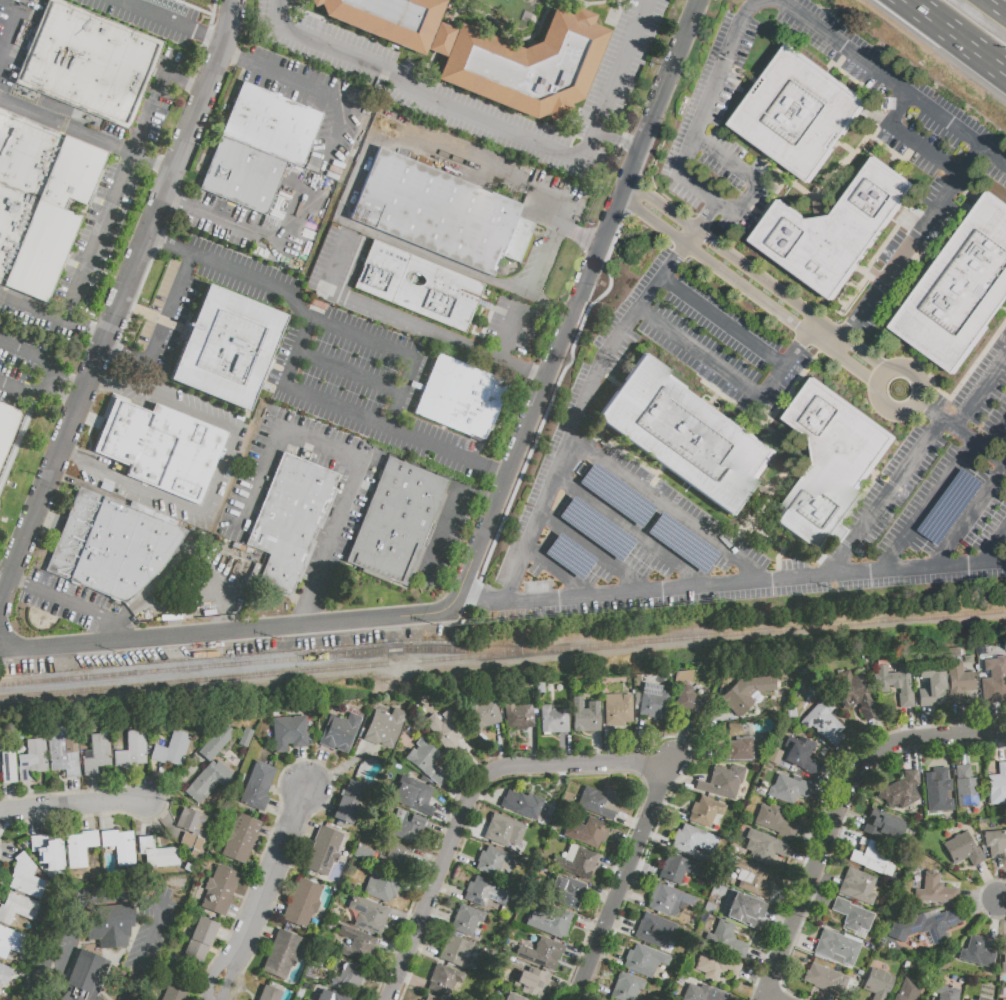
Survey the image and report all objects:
road: (546, 3)
road: (596, 3)
road: (1000, 4)
road: (455, 10)
road: (618, 12)
road: (159, 15)
building: (395, 21)
road: (8, 36)
road: (210, 36)
road: (514, 38)
road: (953, 38)
road: (725, 61)
building: (90, 63)
building: (528, 66)
road: (192, 81)
road: (320, 91)
road: (656, 99)
road: (926, 107)
building: (798, 114)
building: (272, 124)
road: (69, 127)
road: (500, 127)
road: (619, 139)
road: (911, 139)
road: (158, 162)
building: (45, 163)
road: (487, 172)
building: (243, 174)
road: (750, 180)
road: (632, 186)
road: (625, 202)
building: (440, 214)
road: (661, 224)
road: (703, 224)
building: (834, 229)
road: (105, 232)
road: (578, 234)
road: (259, 235)
road: (912, 241)
building: (32, 243)
road: (170, 245)
road: (543, 259)
road: (763, 278)
building: (418, 286)
building: (960, 290)
road: (550, 302)
road: (644, 304)
road: (122, 306)
road: (169, 307)
road: (779, 311)
road: (414, 323)
road: (726, 323)
road: (332, 328)
road: (88, 330)
building: (226, 347)
road: (29, 354)
road: (126, 355)
road: (526, 368)
road: (351, 374)
road: (736, 376)
road: (70, 381)
road: (49, 382)
road: (22, 390)
road: (539, 391)
road: (65, 395)
road: (918, 397)
building: (461, 398)
road: (363, 418)
building: (7, 426)
road: (962, 431)
building: (686, 435)
road: (996, 435)
building: (159, 447)
road: (358, 459)
road: (601, 460)
building: (830, 461)
road: (915, 466)
road: (224, 471)
road: (480, 495)
road: (926, 509)
road: (968, 520)
building: (289, 521)
building: (396, 522)
road: (445, 532)
road: (640, 536)
building: (110, 545)
road: (995, 550)
road: (602, 558)
road: (569, 577)
road: (20, 581)
road: (756, 587)
road: (485, 594)
road: (77, 601)
road: (239, 632)
road: (118, 635)
railway: (502, 653)
railway: (275, 660)
building: (958, 680)
building: (994, 680)
building: (895, 683)
building: (931, 686)
building: (852, 694)
building: (739, 696)
railway: (78, 697)
building: (653, 701)
building: (687, 702)
building: (617, 710)
building: (484, 713)
building: (518, 716)
building: (585, 716)
road: (990, 718)
road: (959, 719)
building: (553, 720)
building: (824, 723)
road: (926, 723)
road: (908, 724)
building: (384, 727)
building: (289, 732)
building: (339, 732)
road: (880, 734)
road: (700, 735)
building: (449, 736)
road: (642, 740)
road: (680, 740)
road: (1005, 742)
building: (216, 743)
road: (499, 746)
road: (613, 746)
road: (533, 747)
road: (597, 748)
building: (171, 749)
building: (64, 750)
road: (564, 750)
building: (735, 750)
road: (962, 750)
building: (132, 751)
road: (941, 751)
building: (97, 753)
road: (852, 754)
road: (912, 754)
building: (422, 755)
building: (795, 755)
building: (32, 759)
road: (693, 759)
road: (339, 764)
building: (7, 766)
road: (301, 766)
road: (314, 766)
building: (436, 775)
road: (837, 778)
road: (680, 780)
building: (723, 781)
building: (206, 782)
road: (157, 784)
building: (257, 784)
building: (998, 784)
road: (176, 785)
road: (126, 787)
building: (968, 788)
building: (788, 790)
road: (92, 791)
building: (901, 791)
road: (73, 792)
road: (455, 792)
building: (938, 792)
road: (488, 795)
road: (29, 797)
road: (829, 797)
road: (10, 798)
building: (413, 798)
road: (469, 799)
building: (598, 802)
road: (317, 803)
building: (349, 803)
road: (73, 807)
road: (280, 807)
building: (522, 807)
road: (670, 809)
road: (162, 810)
building: (705, 811)
road: (841, 811)
road: (88, 817)
road: (108, 817)
road: (450, 817)
road: (851, 819)
road: (40, 821)
building: (775, 822)
road: (632, 823)
building: (882, 825)
building: (405, 826)
road: (302, 827)
road: (469, 828)
building: (190, 831)
road: (441, 831)
building: (504, 831)
building: (587, 832)
road: (270, 833)
road: (842, 836)
building: (240, 837)
road: (657, 837)
road: (625, 839)
building: (688, 839)
building: (995, 843)
building: (119, 845)
building: (763, 847)
building: (79, 848)
building: (962, 849)
building: (323, 850)
building: (48, 851)
building: (153, 851)
road: (7, 852)
building: (362, 854)
building: (394, 858)
building: (876, 858)
road: (461, 859)
road: (804, 859)
road: (429, 861)
building: (493, 862)
building: (576, 862)
road: (271, 868)
road: (614, 868)
road: (645, 868)
building: (679, 869)
building: (752, 877)
building: (26, 878)
road: (826, 879)
road: (1002, 880)
road: (626, 881)
road: (991, 882)
building: (381, 885)
building: (857, 886)
road: (448, 889)
building: (220, 890)
building: (568, 891)
building: (935, 891)
building: (485, 893)
road: (603, 897)
road: (120, 898)
road: (634, 898)
road: (980, 898)
road: (1003, 900)
building: (669, 901)
road: (787, 902)
road: (818, 902)
building: (302, 903)
building: (16, 908)
road: (982, 909)
road: (270, 910)
building: (745, 910)
road: (239, 914)
building: (368, 914)
road: (437, 915)
building: (852, 916)
road: (781, 919)
building: (466, 920)
road: (405, 921)
building: (556, 923)
road: (996, 923)
building: (931, 924)
road: (623, 925)
road: (591, 926)
building: (115, 927)
road: (262, 930)
building: (655, 930)
parking lot: (71, 935)
road: (229, 938)
building: (200, 940)
building: (8, 941)
building: (725, 941)
road: (801, 941)
building: (356, 944)
road: (424, 947)
building: (837, 948)
road: (393, 949)
building: (454, 949)
building: (282, 952)
building: (978, 952)
building: (541, 953)
road: (580, 956)
building: (1003, 956)
road: (611, 958)
road: (764, 960)
building: (641, 961)
building: (714, 965)
road: (212, 970)
building: (4, 974)
building: (87, 974)
road: (229, 975)
building: (348, 978)
road: (758, 978)
building: (444, 979)
building: (825, 979)
road: (381, 980)
road: (412, 980)
building: (533, 984)
building: (877, 984)
road: (568, 987)
building: (626, 987)
building: (177, 990)
building: (907, 991)
building: (697, 992)
building: (268, 993)
building: (948, 993)
building: (331, 995)
building: (513, 997)
building: (985, 997)
parking lot: (23, 998)
building: (430, 998)
road: (587, 998)
building: (981, 998)
building: (104, 999)
building: (305, 999)
building: (307, 999)
road: (770, 999)
building: (965, 999)
building: (1003, 999)

